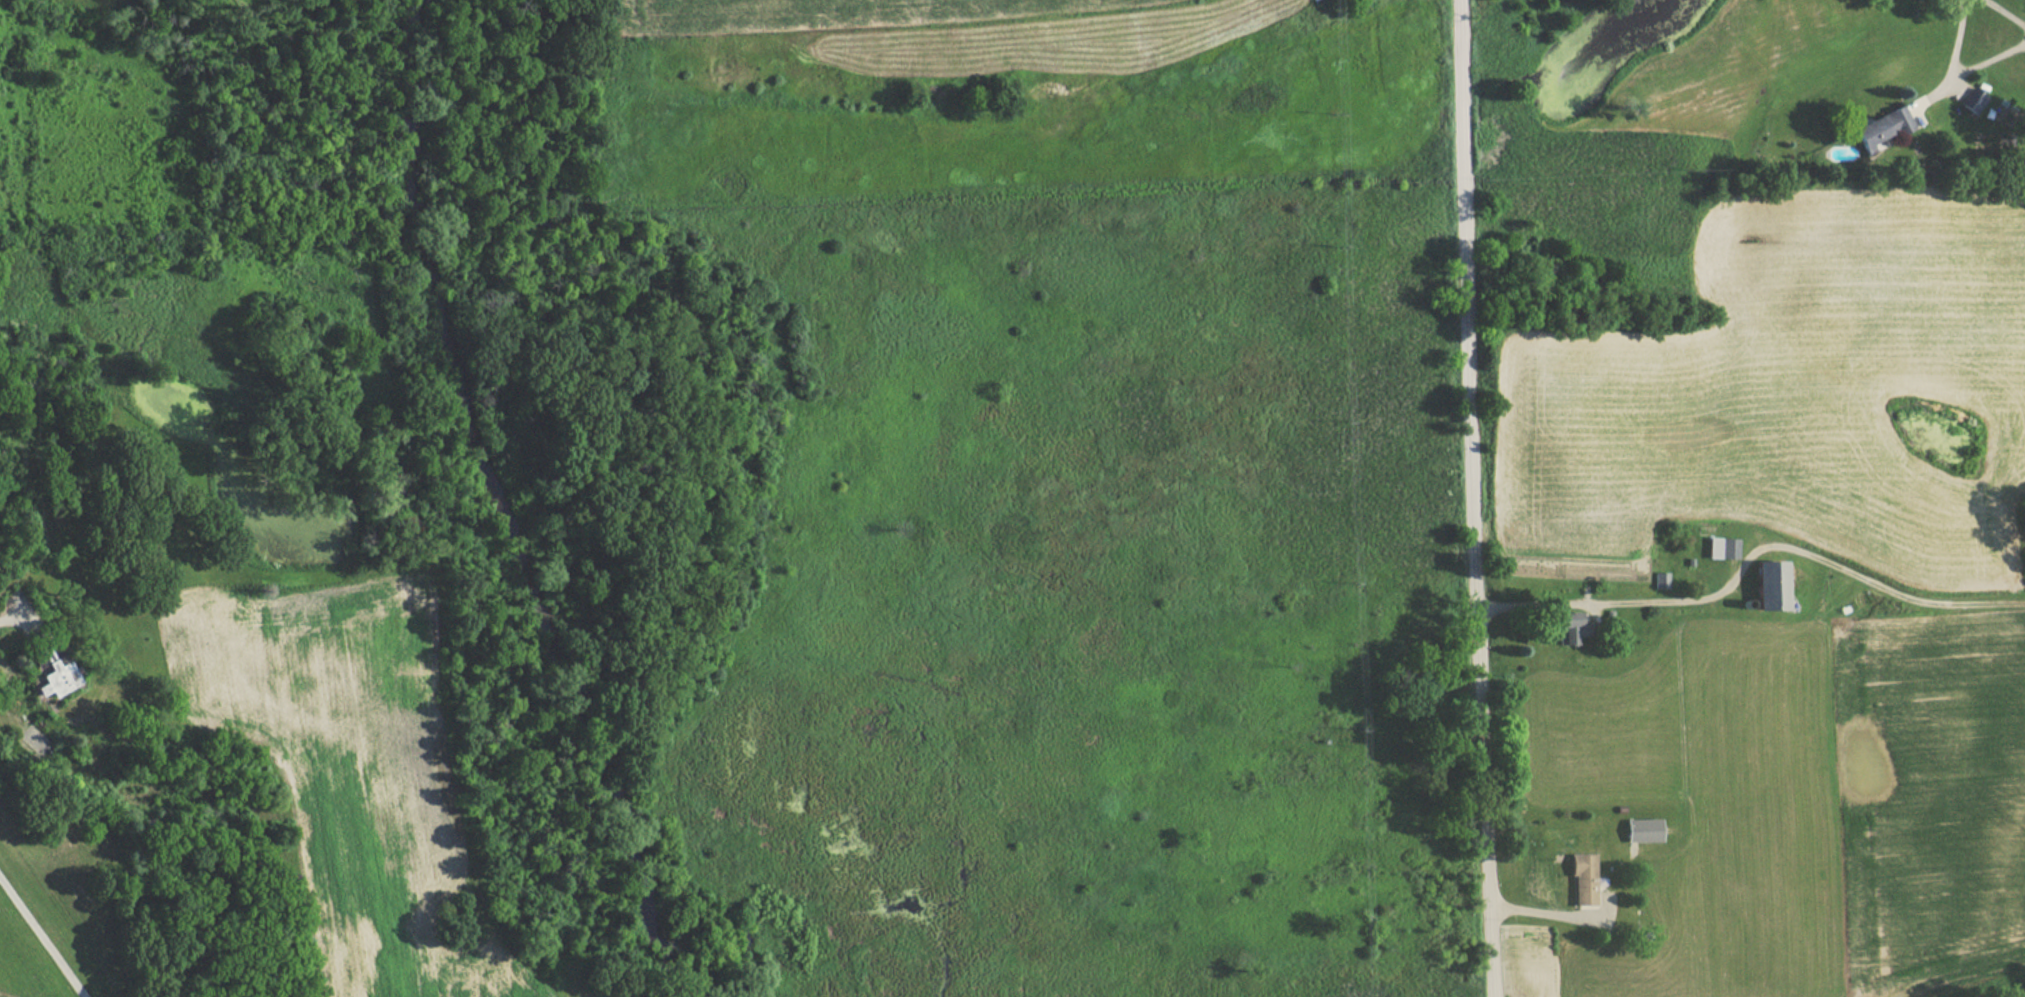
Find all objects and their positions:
crop: (829, 12)
road: (2006, 51)
building: (1971, 101)
building: (1879, 127)
crop: (1800, 388)
road: (1477, 498)
road: (544, 537)
road: (517, 547)
building: (1717, 549)
road: (478, 562)
building: (1658, 581)
building: (1759, 587)
road: (20, 618)
building: (1566, 628)
building: (64, 677)
crop: (1930, 787)
building: (1638, 830)
building: (1579, 880)
road: (42, 937)

